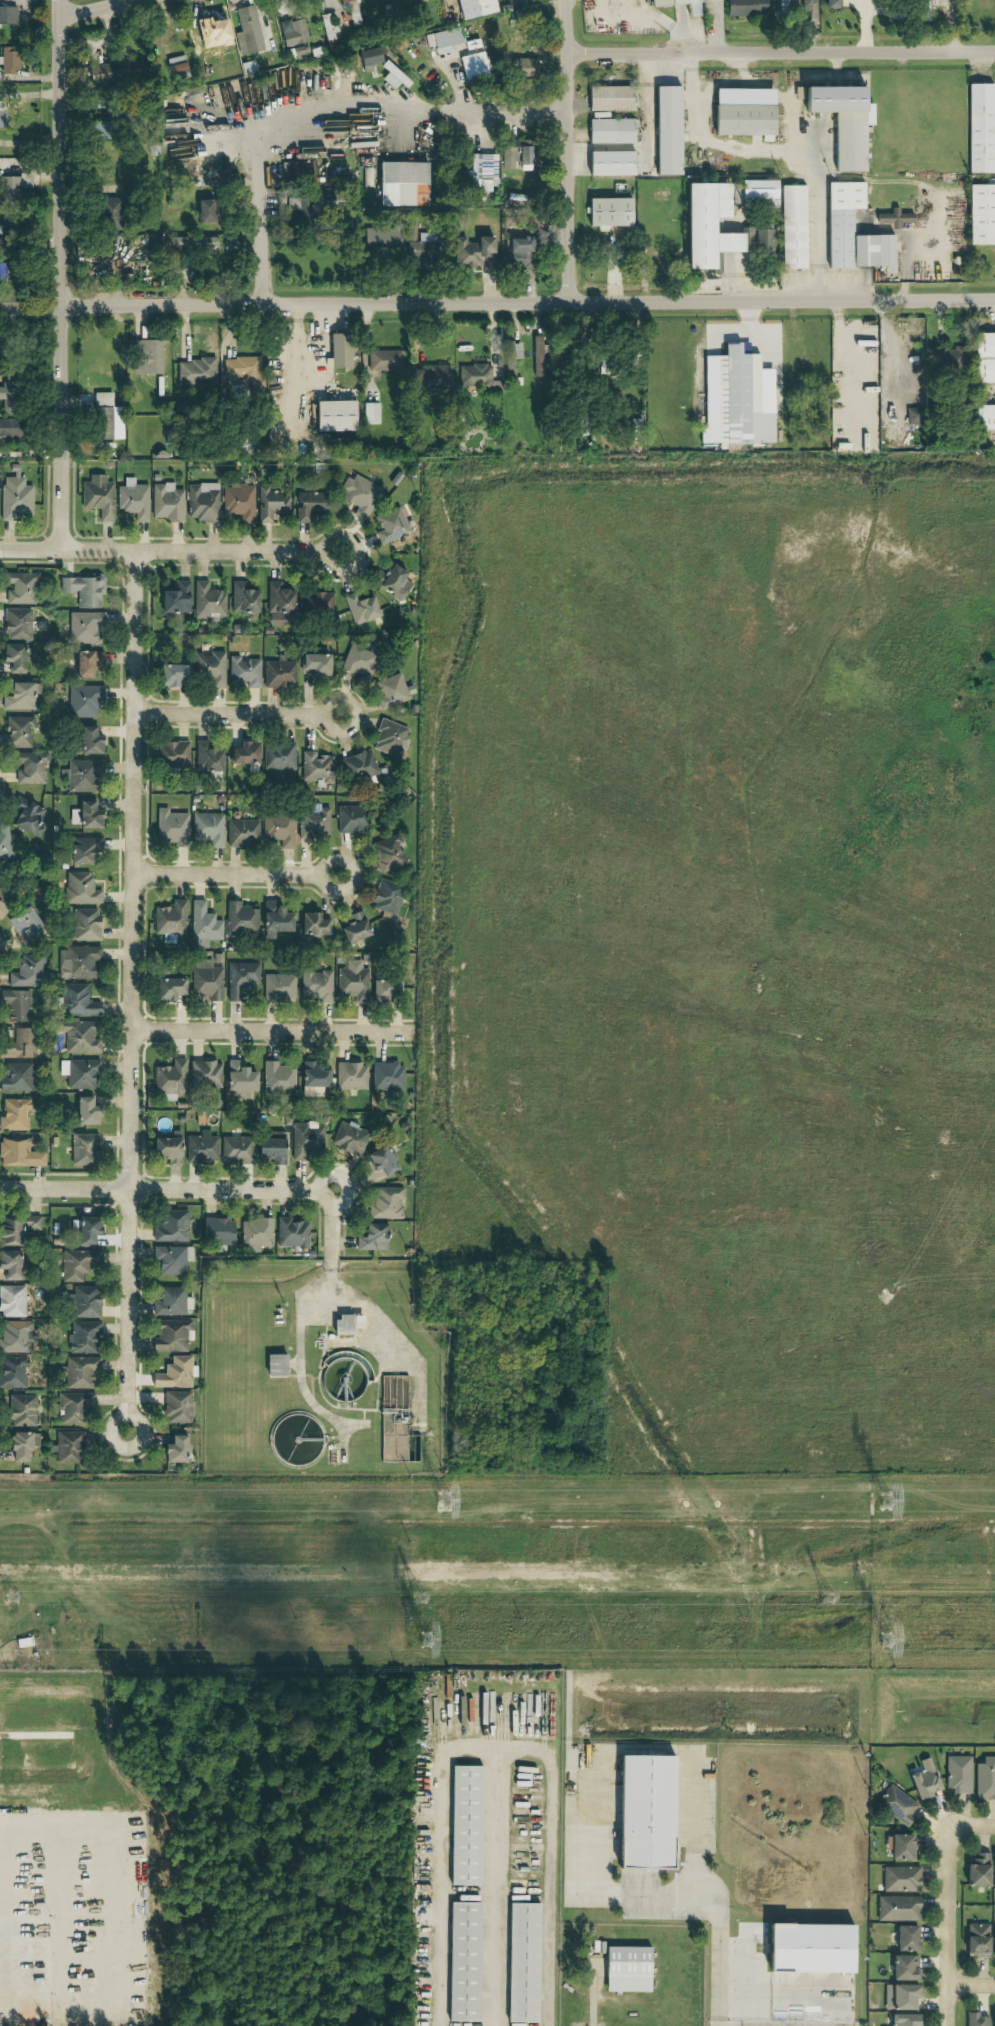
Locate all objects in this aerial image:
building: (412, 0)
building: (833, 4)
building: (746, 7)
building: (473, 8)
road: (95, 9)
building: (350, 10)
building: (807, 10)
building: (692, 12)
building: (8, 14)
building: (327, 28)
building: (247, 31)
building: (293, 32)
building: (443, 40)
building: (297, 51)
road: (780, 52)
building: (367, 57)
building: (9, 60)
building: (472, 66)
building: (524, 66)
building: (176, 67)
building: (113, 71)
road: (821, 77)
building: (609, 99)
road: (792, 101)
road: (333, 104)
road: (504, 111)
building: (743, 112)
building: (3, 119)
building: (842, 122)
building: (979, 128)
building: (97, 131)
building: (610, 131)
building: (666, 131)
road: (566, 150)
building: (190, 152)
building: (514, 153)
road: (775, 154)
building: (609, 164)
building: (482, 171)
building: (401, 185)
building: (12, 188)
building: (203, 212)
building: (608, 212)
building: (303, 213)
building: (981, 215)
building: (894, 218)
building: (839, 222)
building: (10, 224)
building: (706, 226)
building: (792, 227)
road: (256, 232)
building: (381, 239)
building: (194, 243)
building: (228, 245)
building: (418, 246)
building: (472, 252)
building: (517, 253)
building: (11, 275)
road: (60, 275)
building: (11, 302)
road: (527, 302)
road: (297, 346)
building: (339, 351)
building: (147, 357)
building: (536, 357)
building: (984, 358)
building: (384, 361)
building: (242, 372)
building: (850, 372)
building: (196, 373)
building: (456, 377)
building: (10, 397)
building: (370, 414)
building: (103, 416)
building: (913, 416)
building: (333, 417)
building: (985, 418)
building: (13, 428)
building: (14, 495)
building: (359, 495)
building: (98, 496)
building: (132, 499)
building: (238, 501)
building: (166, 502)
building: (202, 502)
building: (270, 504)
building: (308, 505)
building: (390, 525)
road: (172, 551)
building: (394, 582)
building: (20, 588)
building: (83, 589)
building: (176, 598)
building: (243, 598)
building: (208, 602)
building: (317, 603)
building: (278, 604)
building: (360, 608)
building: (16, 624)
building: (83, 626)
building: (14, 656)
building: (360, 661)
building: (86, 663)
building: (314, 664)
building: (210, 668)
building: (243, 672)
building: (278, 673)
building: (170, 674)
building: (391, 691)
building: (17, 696)
building: (83, 701)
road: (235, 715)
building: (17, 731)
building: (387, 737)
building: (88, 740)
building: (243, 753)
building: (173, 754)
building: (278, 756)
building: (205, 757)
building: (360, 765)
building: (316, 767)
building: (81, 775)
building: (88, 814)
building: (27, 818)
building: (351, 819)
building: (313, 822)
building: (170, 827)
building: (207, 828)
building: (278, 830)
building: (241, 832)
building: (5, 842)
building: (83, 849)
building: (390, 854)
road: (233, 875)
building: (80, 889)
building: (387, 895)
building: (4, 898)
building: (240, 919)
building: (169, 921)
building: (24, 923)
building: (203, 923)
building: (84, 924)
building: (312, 924)
building: (354, 928)
building: (77, 962)
building: (26, 971)
building: (239, 978)
building: (205, 981)
building: (352, 982)
building: (314, 984)
building: (278, 987)
building: (167, 989)
building: (384, 989)
road: (130, 992)
building: (77, 1001)
building: (16, 1006)
road: (272, 1031)
building: (78, 1036)
building: (19, 1044)
building: (79, 1073)
building: (205, 1074)
building: (351, 1076)
building: (387, 1076)
building: (17, 1077)
building: (170, 1078)
building: (277, 1079)
building: (312, 1079)
building: (238, 1080)
building: (84, 1111)
building: (14, 1114)
building: (348, 1138)
building: (306, 1140)
building: (166, 1148)
building: (201, 1148)
building: (83, 1149)
building: (235, 1149)
building: (270, 1149)
building: (19, 1153)
building: (381, 1161)
road: (200, 1190)
building: (387, 1202)
building: (29, 1223)
building: (171, 1226)
building: (86, 1231)
building: (216, 1231)
building: (9, 1232)
building: (255, 1233)
building: (291, 1234)
building: (372, 1237)
building: (171, 1259)
building: (77, 1264)
building: (9, 1265)
building: (11, 1301)
building: (172, 1301)
building: (83, 1302)
road: (366, 1306)
building: (342, 1324)
building: (172, 1335)
building: (15, 1337)
building: (82, 1338)
building: (275, 1365)
building: (12, 1371)
building: (79, 1372)
building: (174, 1373)
building: (73, 1407)
building: (177, 1407)
building: (20, 1411)
building: (21, 1445)
building: (68, 1447)
building: (174, 1450)
power tower: (441, 1500)
power tower: (886, 1501)
power tower: (824, 1599)
power tower: (13, 1600)
power tower: (417, 1602)
power tower: (884, 1641)
power tower: (425, 1642)
road: (494, 1750)
building: (957, 1774)
building: (984, 1778)
building: (924, 1779)
building: (897, 1804)
building: (643, 1810)
building: (464, 1824)
road: (974, 1826)
building: (900, 1846)
building: (978, 1870)
building: (994, 1873)
building: (900, 1879)
road: (493, 1887)
road: (666, 1892)
building: (897, 1908)
road: (948, 1927)
building: (906, 1937)
building: (977, 1939)
building: (993, 1944)
building: (809, 1946)
building: (462, 1961)
building: (522, 1962)
building: (905, 1967)
building: (626, 1968)
road: (971, 1985)
road: (758, 1993)
building: (900, 1996)
road: (594, 2000)
building: (904, 2019)
building: (993, 2019)

